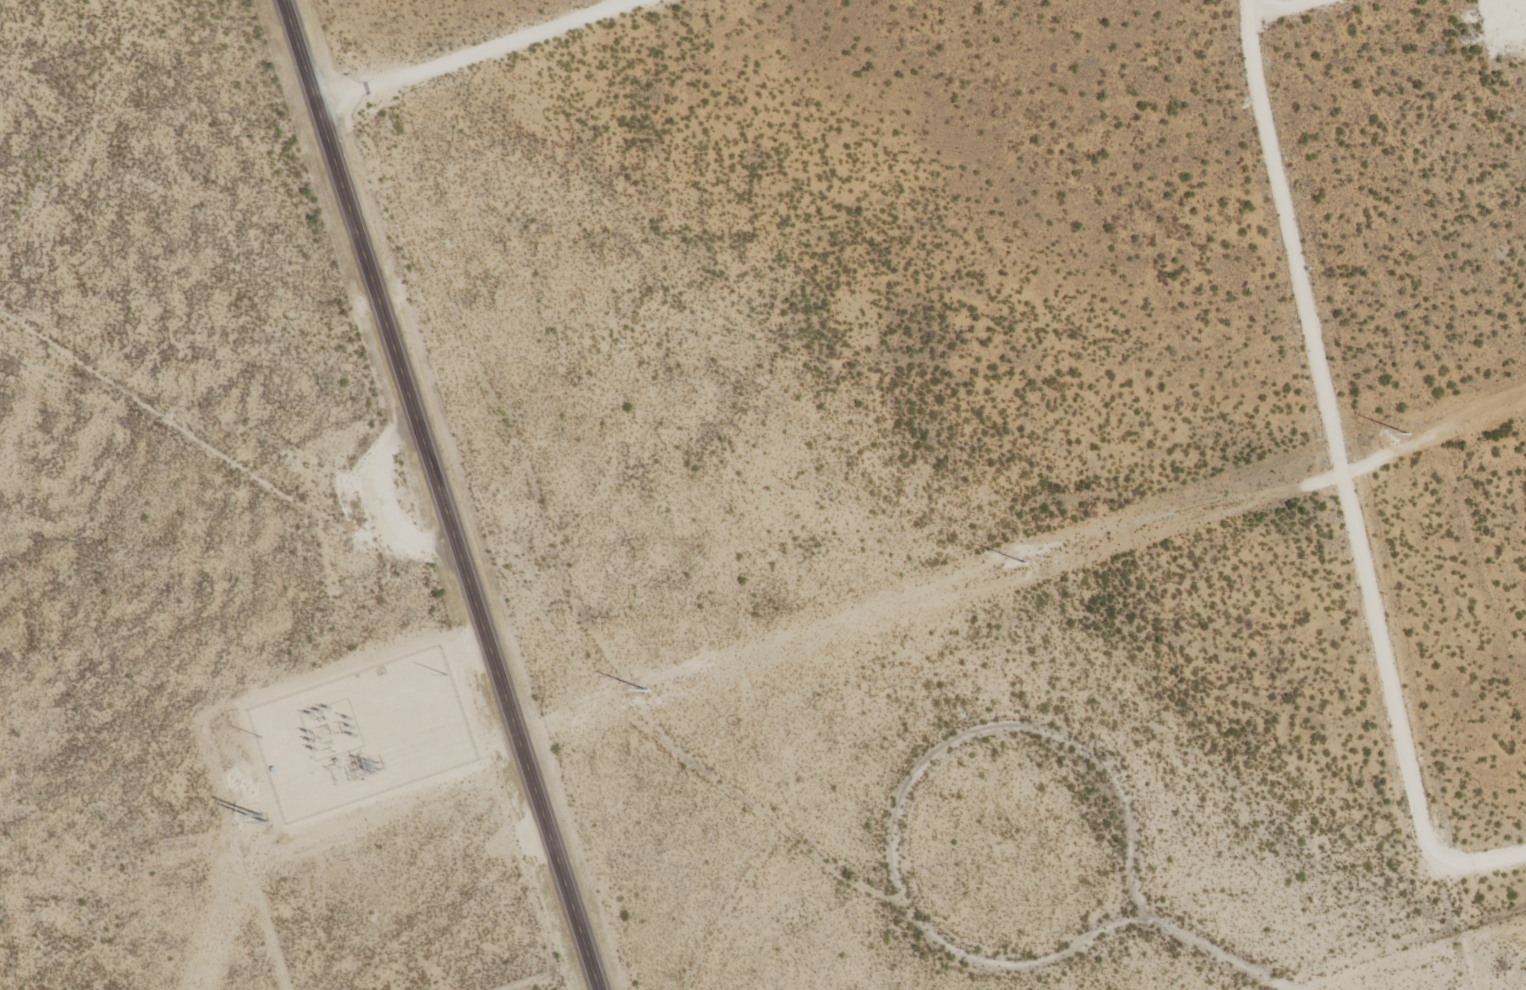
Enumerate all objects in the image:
road: (475, 51)
road: (442, 494)
road: (1355, 494)
power substation: (364, 736)
power tower: (377, 768)

